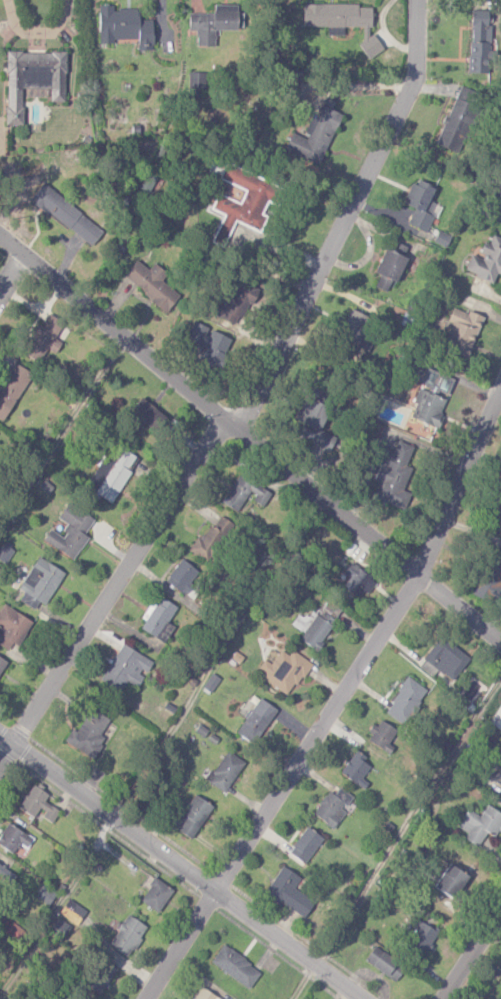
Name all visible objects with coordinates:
building: (343, 22)
building: (213, 24)
building: (124, 27)
building: (479, 41)
building: (33, 79)
building: (455, 125)
building: (314, 137)
building: (498, 193)
building: (242, 203)
building: (420, 204)
building: (67, 215)
building: (487, 260)
building: (391, 263)
road: (11, 272)
building: (151, 282)
building: (383, 282)
building: (235, 302)
building: (352, 328)
building: (462, 330)
building: (43, 337)
building: (209, 343)
building: (11, 387)
road: (247, 400)
road: (207, 405)
building: (428, 406)
building: (145, 411)
building: (393, 474)
building: (110, 475)
building: (245, 491)
building: (496, 518)
building: (70, 531)
building: (212, 539)
building: (5, 552)
building: (182, 575)
building: (489, 579)
building: (357, 580)
building: (39, 582)
road: (459, 608)
building: (159, 618)
building: (301, 621)
building: (12, 626)
building: (316, 631)
building: (445, 658)
building: (2, 664)
building: (126, 668)
building: (284, 670)
road: (335, 700)
building: (405, 700)
building: (256, 720)
building: (88, 733)
building: (382, 734)
building: (356, 769)
building: (226, 771)
building: (498, 776)
building: (500, 795)
building: (37, 803)
building: (333, 806)
road: (106, 811)
building: (194, 815)
building: (481, 824)
building: (13, 838)
building: (305, 844)
building: (6, 874)
building: (451, 880)
building: (288, 892)
building: (46, 894)
building: (156, 894)
building: (72, 911)
building: (59, 928)
building: (14, 931)
building: (127, 935)
building: (420, 936)
road: (288, 944)
road: (472, 953)
building: (384, 963)
building: (235, 966)
building: (100, 976)
building: (204, 994)

